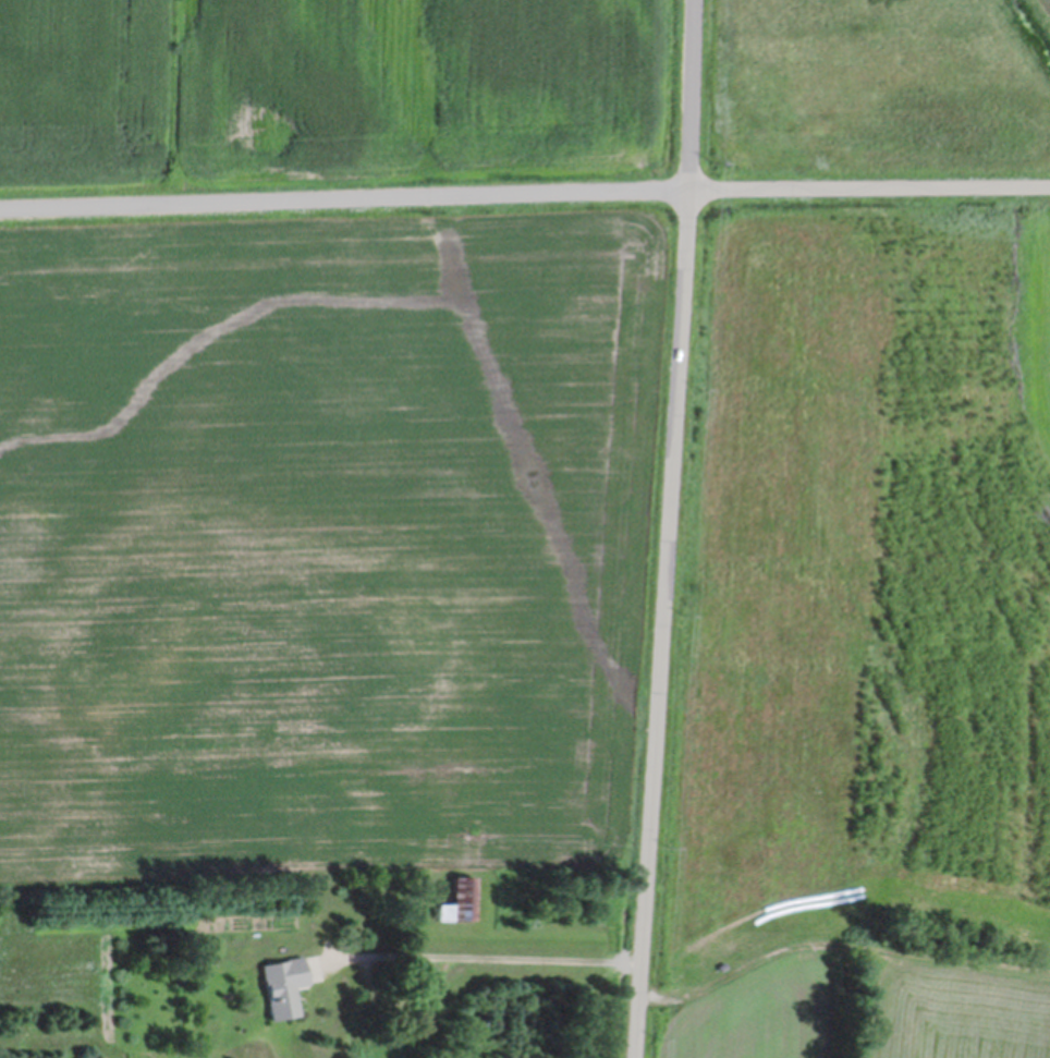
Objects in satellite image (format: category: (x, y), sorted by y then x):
road: (524, 191)
road: (667, 528)
building: (462, 896)
road: (484, 956)
building: (279, 984)

